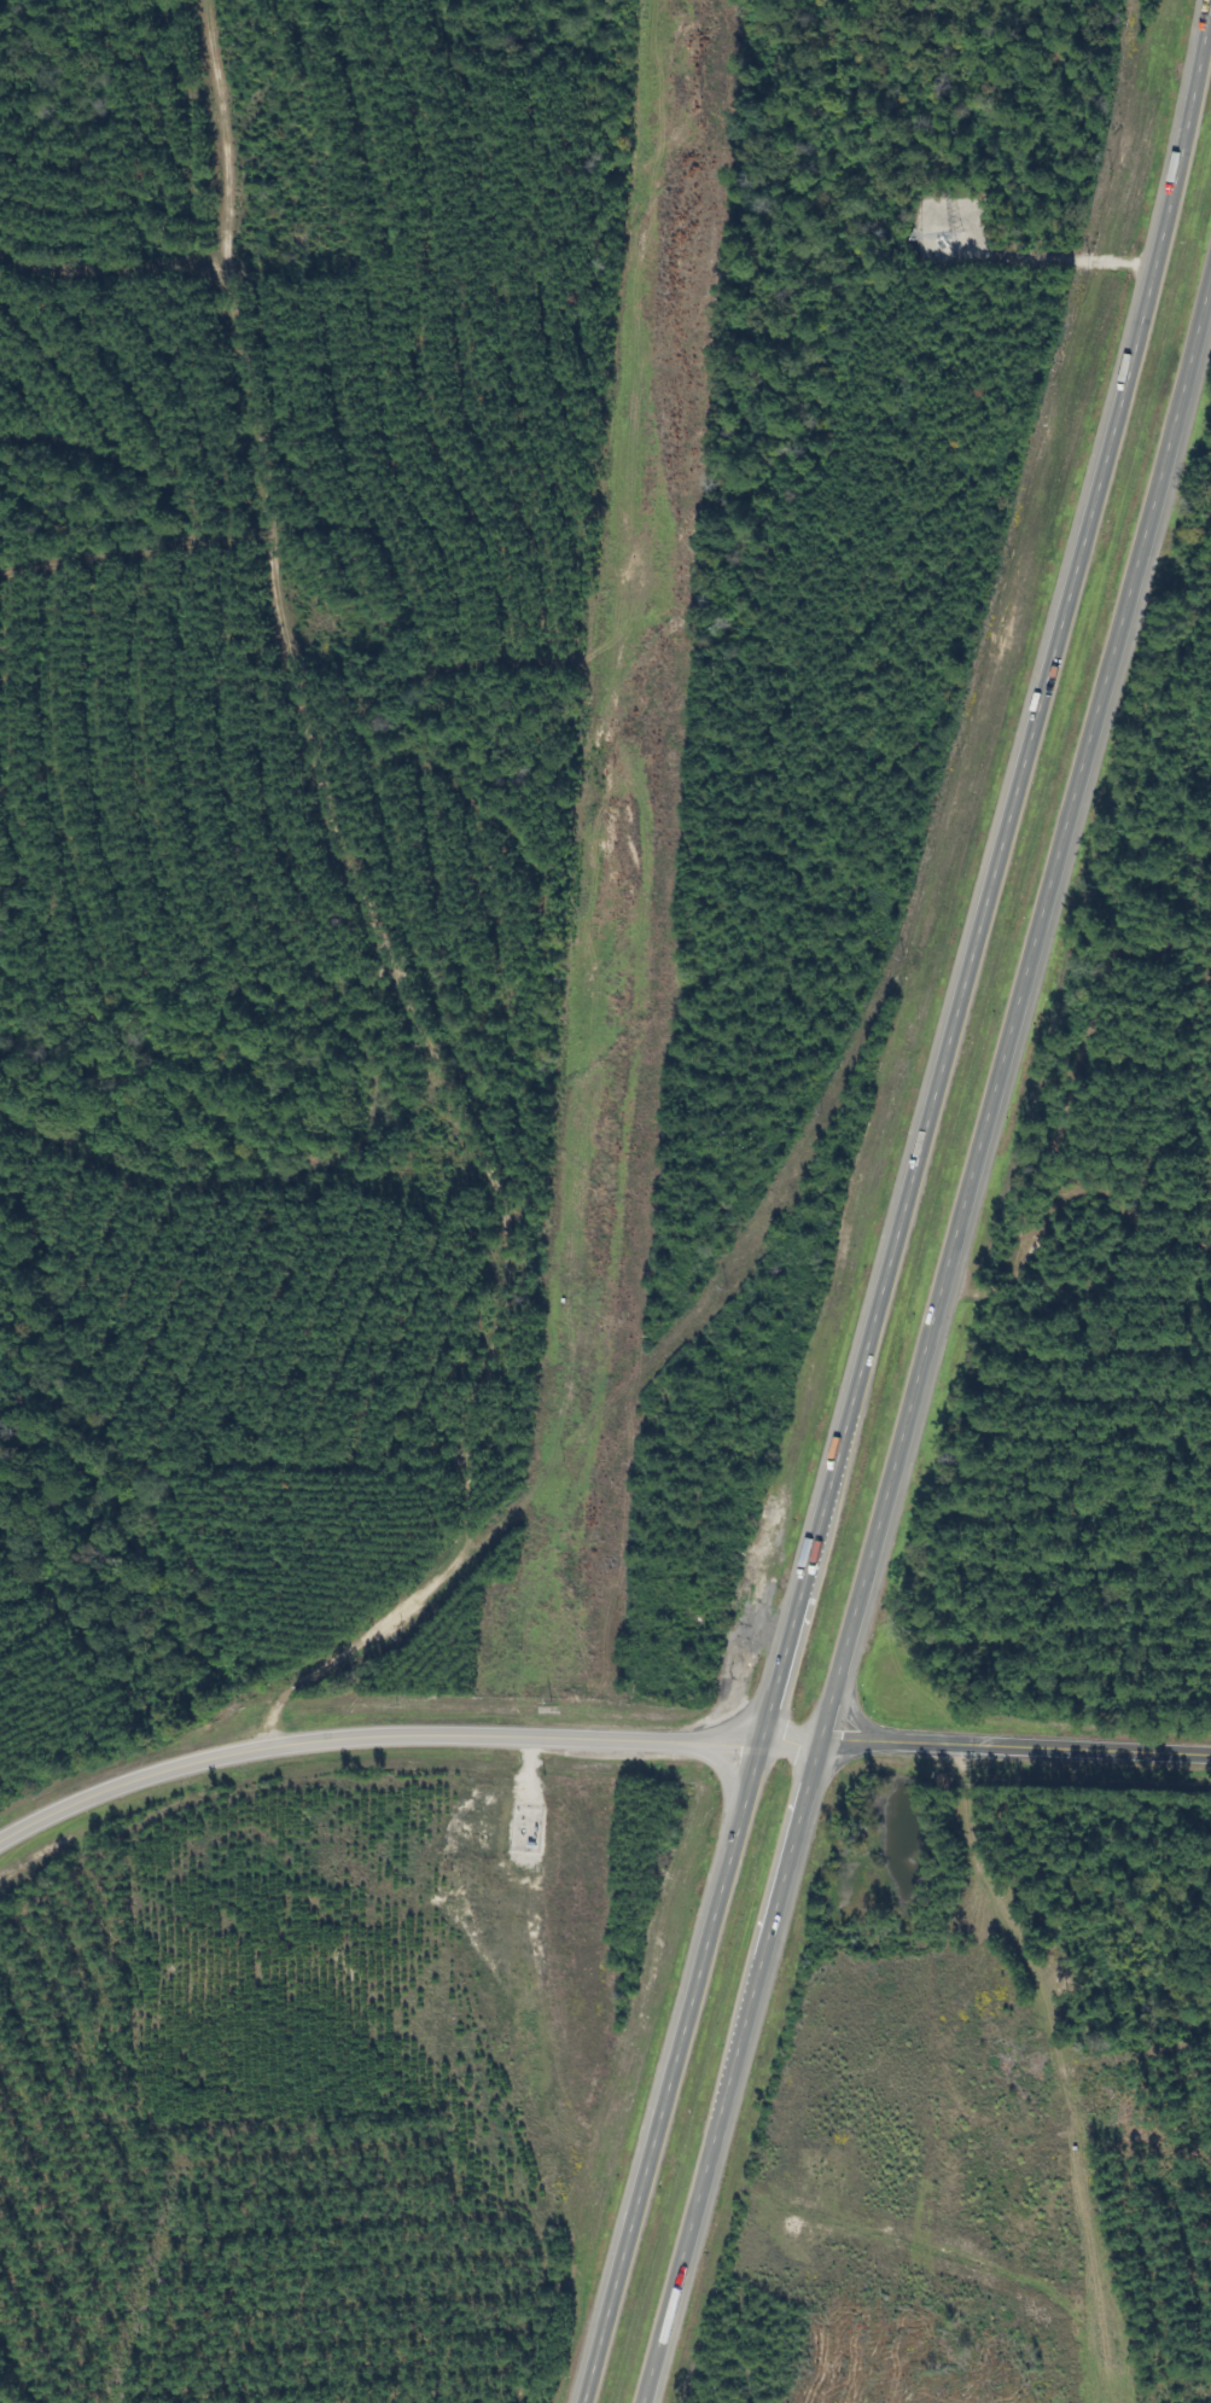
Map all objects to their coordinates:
road: (991, 892)
road: (935, 1358)
road: (369, 1738)
road: (791, 1744)
road: (1017, 1750)
road: (676, 2073)

